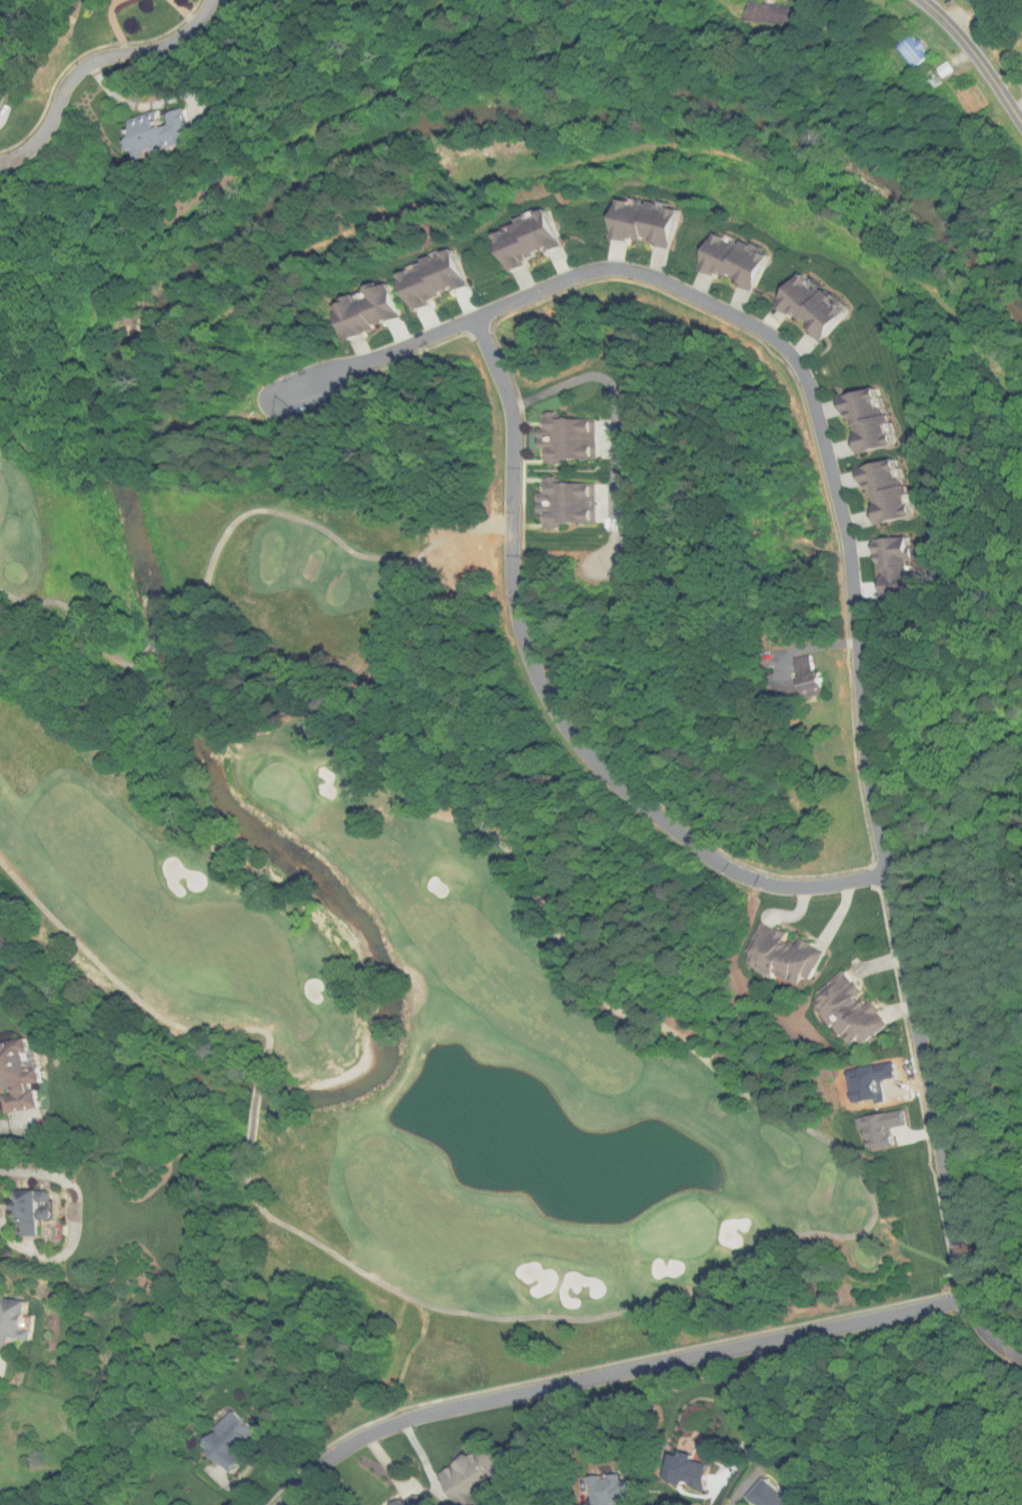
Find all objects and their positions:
building: (787, 16)
building: (923, 56)
road: (978, 56)
road: (92, 66)
building: (0, 82)
building: (1, 95)
building: (183, 136)
building: (656, 222)
building: (538, 239)
building: (745, 261)
building: (441, 278)
building: (823, 307)
building: (377, 309)
road: (612, 413)
building: (878, 420)
building: (572, 440)
building: (895, 492)
building: (571, 504)
building: (906, 567)
road: (854, 598)
building: (822, 684)
road: (556, 705)
park: (286, 786)
building: (797, 957)
building: (857, 1010)
building: (24, 1076)
building: (36, 1213)
park: (679, 1230)
building: (18, 1325)
road: (614, 1375)
road: (748, 1427)
building: (237, 1445)
building: (701, 1472)
building: (477, 1481)
building: (619, 1490)
building: (775, 1496)
building: (418, 1501)
road: (731, 1504)

